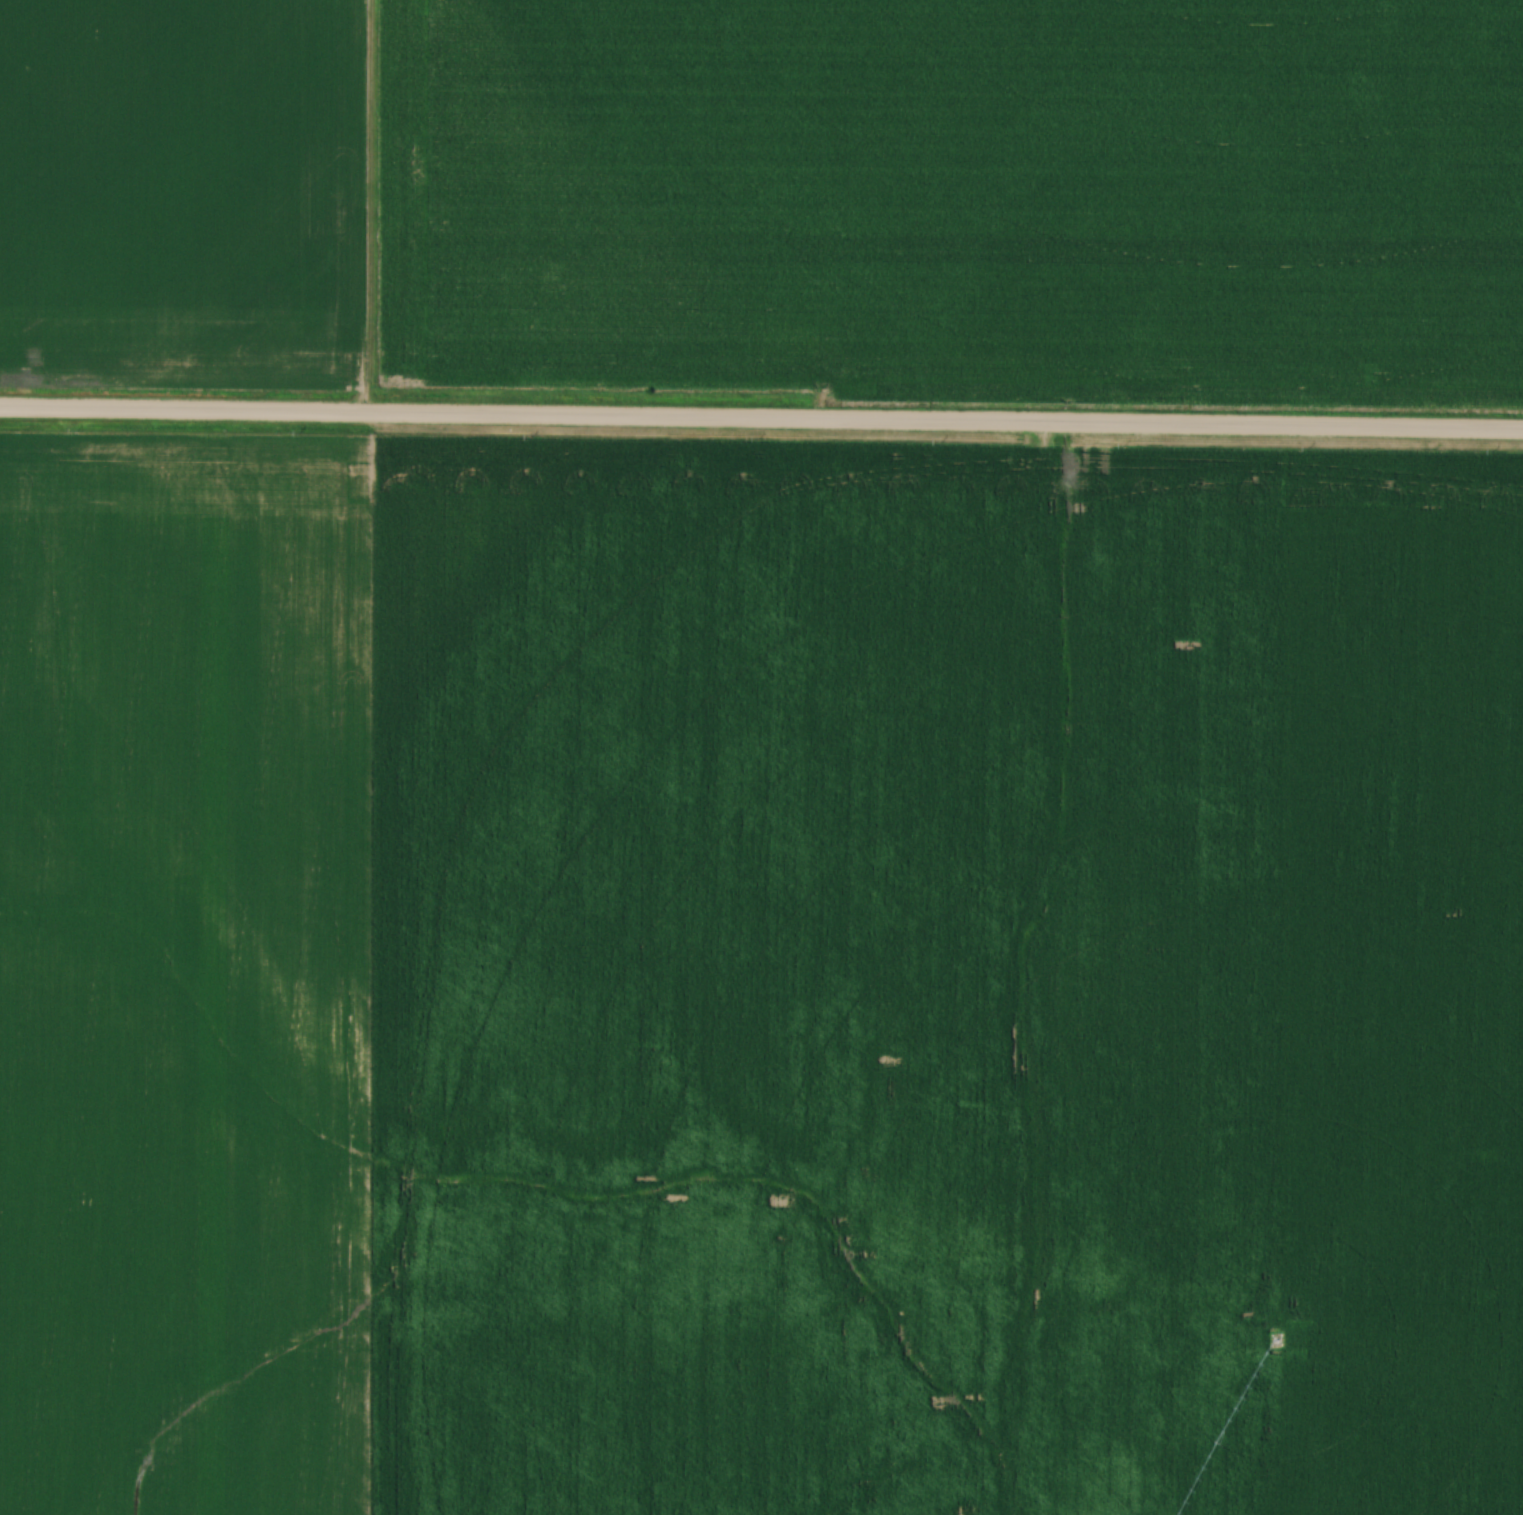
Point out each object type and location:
road: (761, 422)

